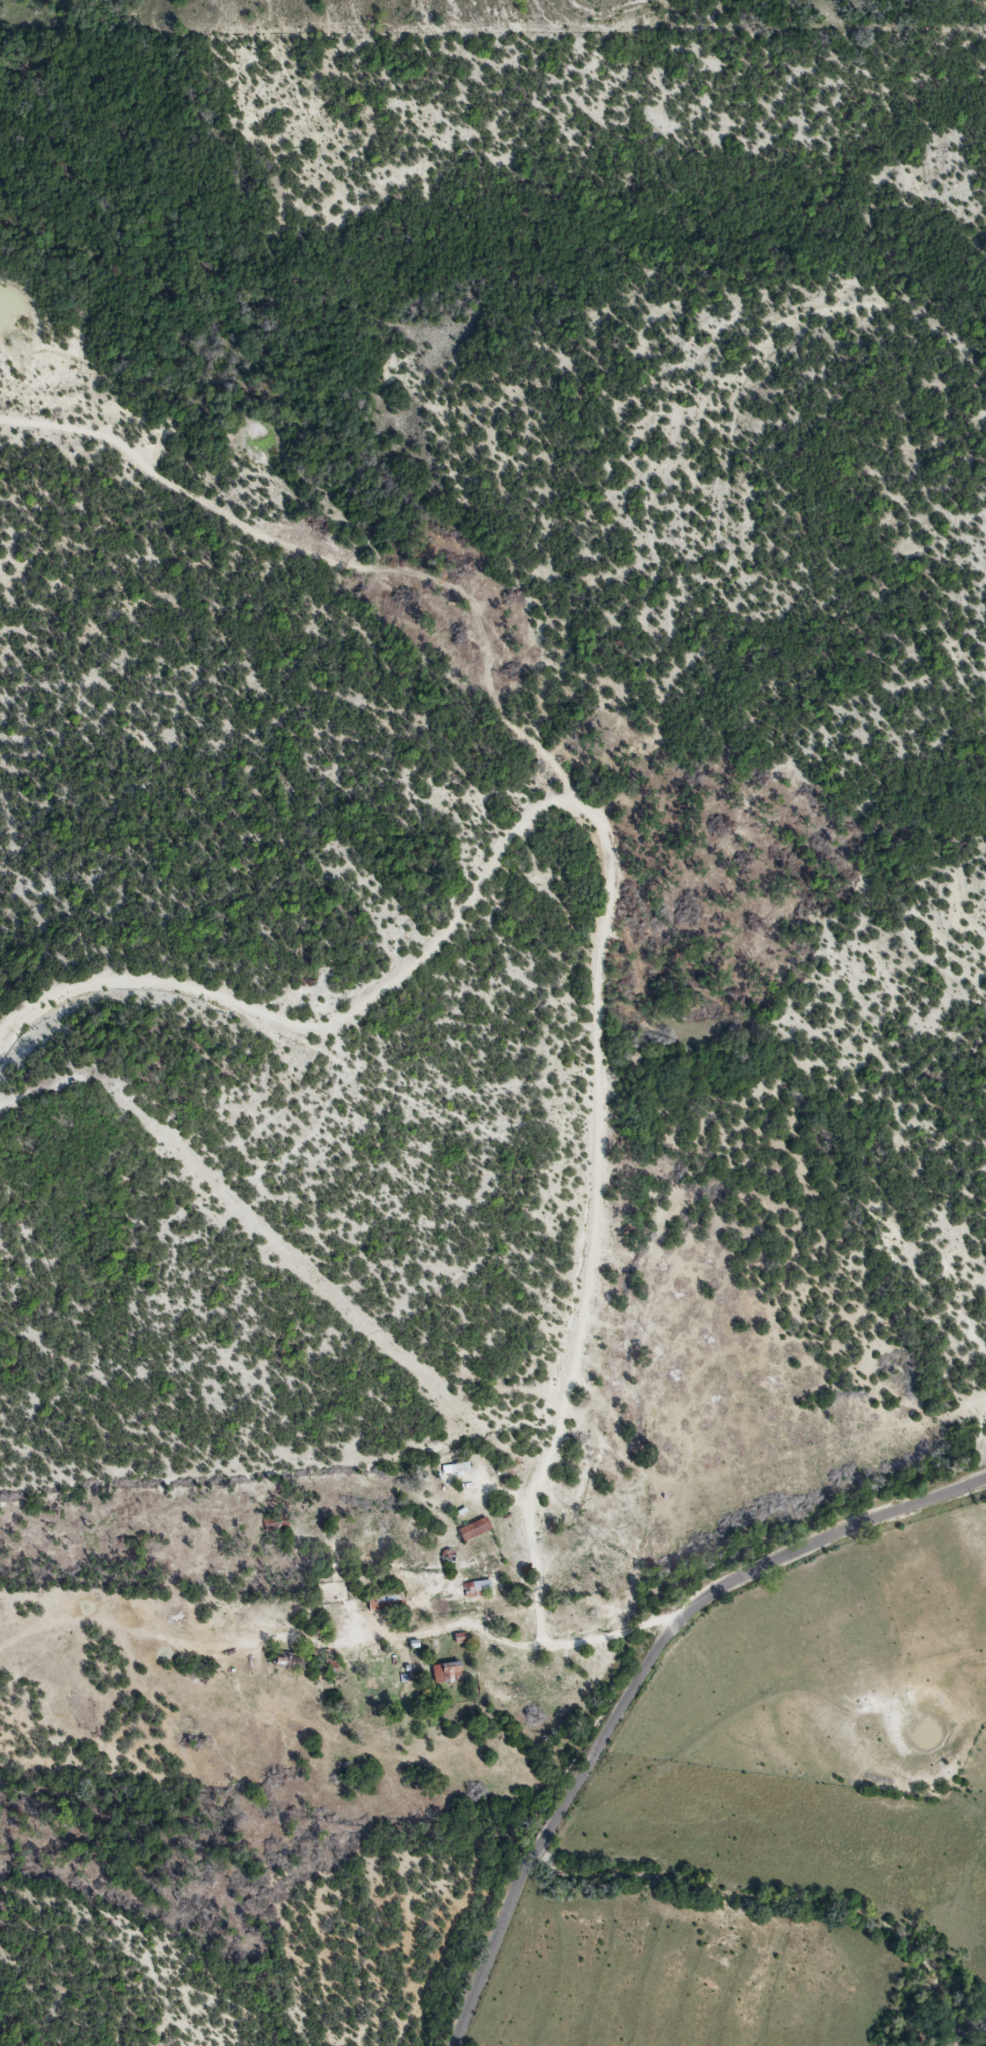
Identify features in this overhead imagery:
road: (576, 805)
road: (27, 1095)
building: (474, 1530)
road: (535, 1562)
building: (477, 1588)
road: (530, 1649)
building: (290, 1664)
building: (446, 1674)
road: (640, 1677)

